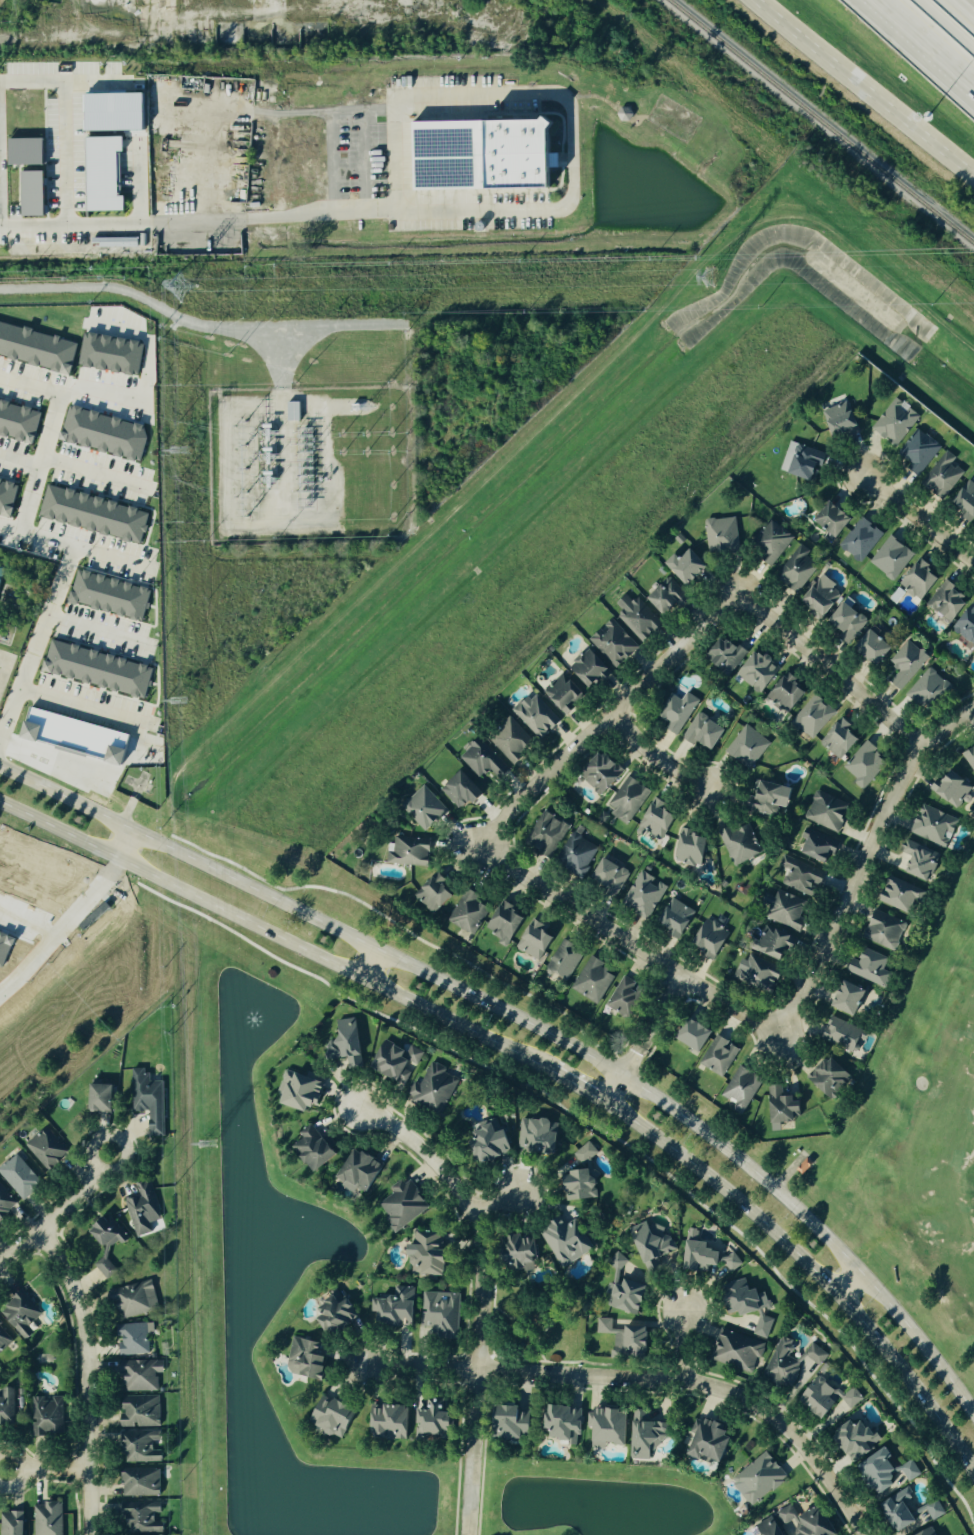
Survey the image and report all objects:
road: (962, 10)
road: (928, 41)
road: (864, 85)
road: (154, 90)
road: (566, 99)
building: (114, 111)
railway: (821, 121)
building: (26, 152)
railway: (780, 154)
road: (67, 155)
building: (480, 155)
building: (104, 174)
building: (33, 194)
road: (197, 220)
building: (142, 239)
building: (114, 242)
power tower: (707, 279)
power tower: (177, 290)
road: (196, 326)
building: (38, 347)
building: (113, 353)
road: (142, 382)
road: (44, 405)
building: (297, 410)
building: (20, 420)
building: (838, 421)
building: (893, 423)
building: (106, 432)
power tower: (176, 451)
building: (916, 453)
building: (800, 462)
road: (83, 464)
power substation: (310, 464)
building: (940, 476)
road: (26, 481)
building: (9, 496)
building: (964, 501)
building: (96, 514)
road: (919, 518)
building: (829, 520)
building: (720, 537)
road: (52, 538)
building: (859, 540)
building: (769, 543)
building: (889, 559)
building: (685, 567)
building: (1, 569)
building: (795, 570)
building: (917, 580)
building: (112, 594)
building: (665, 598)
building: (817, 601)
building: (945, 602)
building: (635, 619)
building: (842, 622)
building: (965, 626)
road: (87, 627)
building: (612, 643)
road: (28, 648)
building: (870, 648)
building: (723, 656)
building: (973, 656)
building: (905, 664)
building: (592, 667)
building: (100, 668)
building: (755, 672)
building: (926, 690)
building: (566, 693)
building: (782, 695)
road: (69, 704)
power tower: (176, 704)
building: (675, 711)
road: (610, 715)
building: (539, 717)
building: (810, 717)
building: (707, 731)
building: (973, 732)
building: (75, 736)
building: (837, 739)
building: (513, 740)
building: (745, 748)
building: (968, 757)
road: (654, 758)
building: (483, 760)
building: (862, 766)
building: (599, 773)
building: (948, 788)
building: (464, 791)
building: (763, 798)
building: (777, 798)
building: (626, 800)
building: (426, 808)
building: (825, 812)
building: (655, 819)
building: (930, 825)
building: (549, 833)
road: (125, 843)
building: (737, 844)
building: (812, 846)
building: (688, 847)
building: (407, 852)
building: (579, 852)
building: (915, 861)
building: (613, 874)
building: (801, 879)
building: (438, 893)
building: (645, 894)
building: (896, 894)
building: (789, 910)
building: (471, 912)
road: (838, 916)
building: (678, 918)
road: (29, 919)
building: (508, 923)
road: (65, 928)
building: (879, 929)
road: (276, 936)
building: (714, 937)
building: (538, 939)
building: (778, 944)
building: (6, 945)
building: (567, 959)
road: (374, 967)
building: (873, 968)
building: (760, 974)
building: (594, 979)
building: (627, 997)
building: (853, 998)
road: (660, 1013)
road: (534, 1027)
building: (845, 1034)
building: (700, 1036)
building: (347, 1044)
building: (720, 1056)
building: (398, 1060)
road: (630, 1061)
building: (831, 1077)
road: (579, 1083)
road: (612, 1085)
building: (435, 1088)
building: (743, 1088)
building: (303, 1090)
building: (105, 1098)
building: (151, 1099)
building: (786, 1106)
park: (920, 1126)
building: (540, 1136)
building: (492, 1141)
power tower: (206, 1146)
building: (48, 1148)
building: (316, 1148)
building: (587, 1152)
building: (363, 1172)
building: (20, 1176)
building: (583, 1185)
building: (6, 1202)
road: (500, 1203)
building: (404, 1204)
building: (143, 1209)
road: (58, 1211)
road: (474, 1215)
building: (567, 1241)
building: (108, 1243)
building: (654, 1244)
building: (525, 1253)
building: (702, 1253)
building: (431, 1255)
building: (734, 1261)
road: (809, 1266)
road: (846, 1279)
building: (627, 1289)
building: (136, 1299)
building: (752, 1305)
building: (398, 1308)
building: (443, 1311)
building: (23, 1314)
building: (340, 1314)
building: (4, 1337)
building: (137, 1339)
building: (628, 1339)
road: (685, 1344)
building: (739, 1350)
building: (311, 1359)
building: (792, 1362)
building: (142, 1374)
road: (89, 1376)
road: (650, 1378)
building: (829, 1398)
building: (6, 1408)
building: (142, 1411)
building: (49, 1416)
building: (337, 1416)
building: (393, 1421)
building: (436, 1422)
building: (519, 1422)
building: (568, 1423)
building: (611, 1427)
building: (648, 1436)
building: (712, 1440)
building: (850, 1440)
building: (143, 1446)
road: (472, 1453)
road: (48, 1468)
building: (907, 1470)
building: (874, 1473)
building: (754, 1478)
building: (143, 1482)
building: (931, 1509)
building: (893, 1510)
building: (144, 1516)
building: (50, 1519)
building: (801, 1520)
building: (15, 1523)
building: (765, 1527)
building: (923, 1532)

